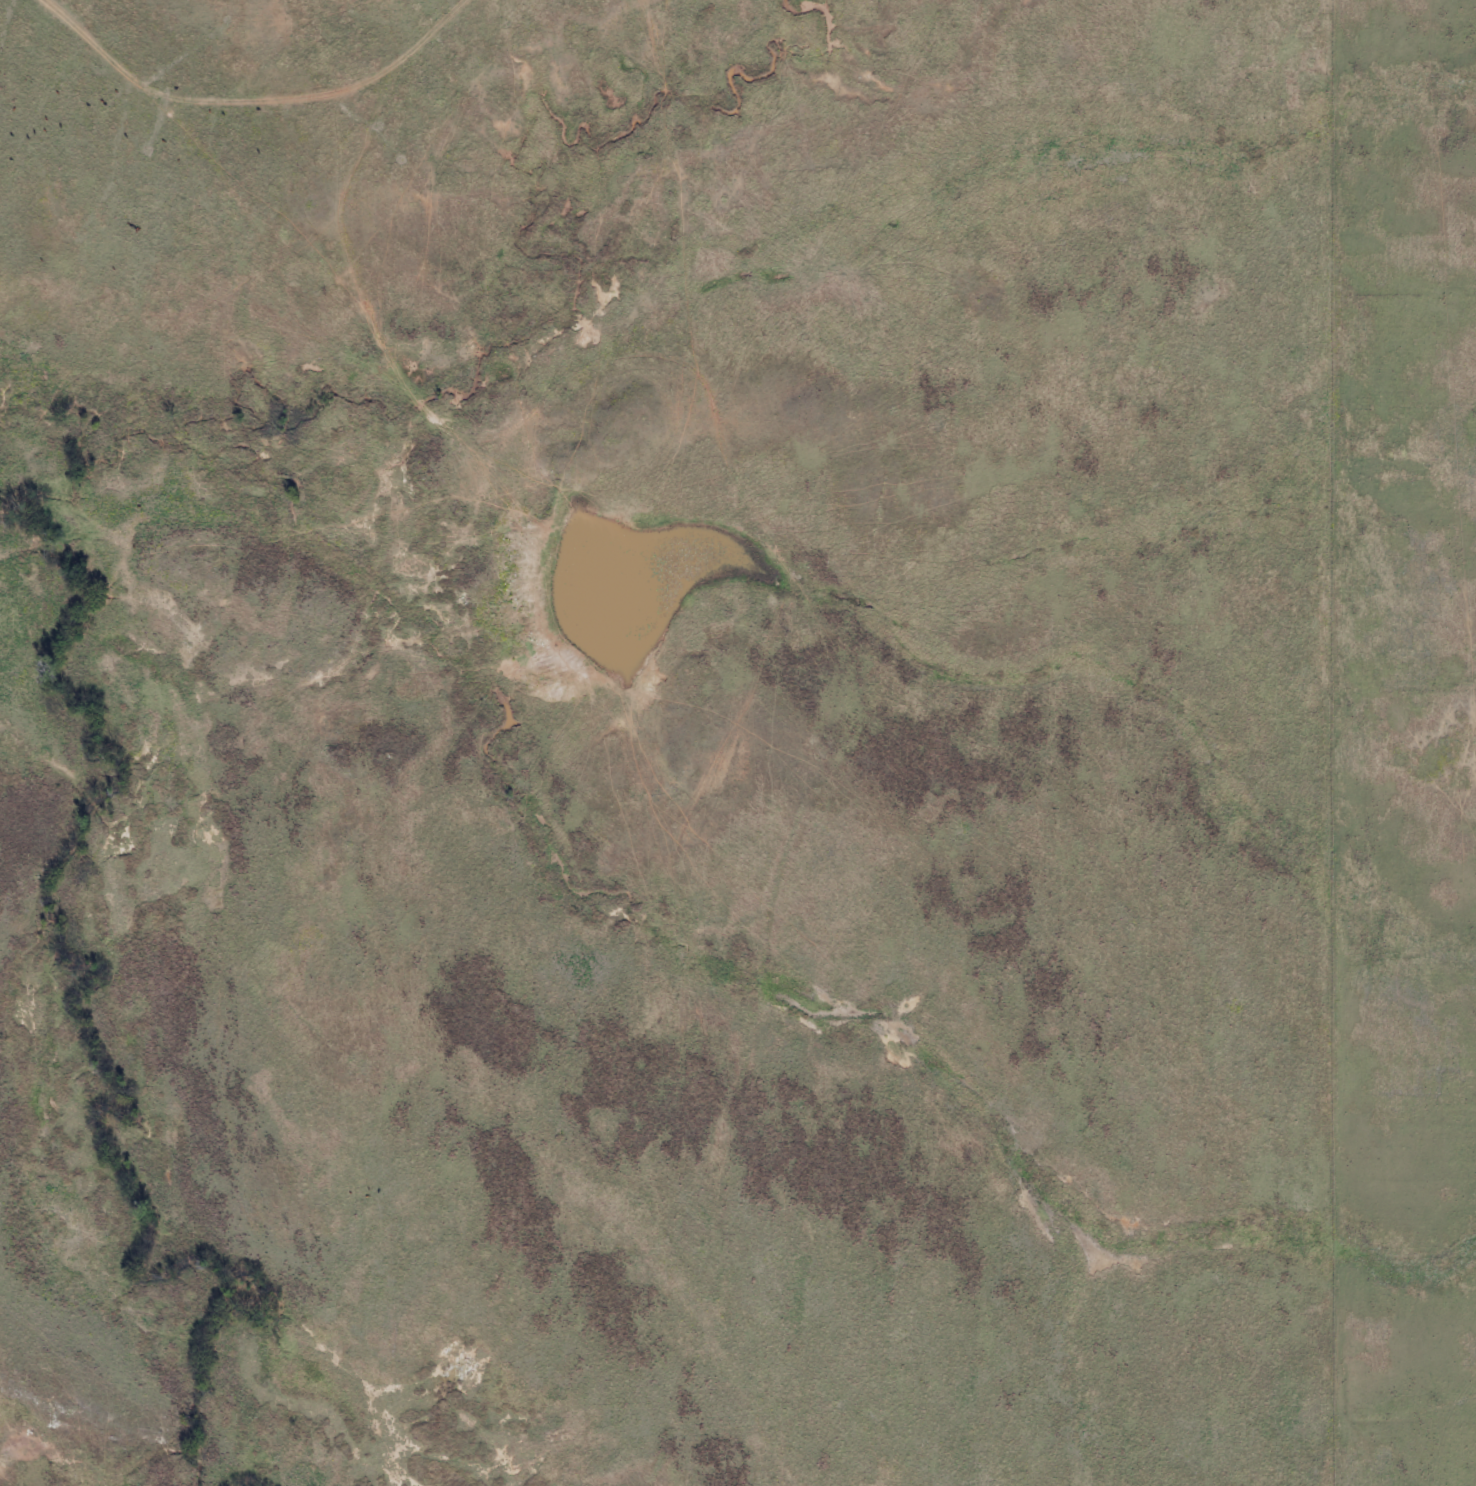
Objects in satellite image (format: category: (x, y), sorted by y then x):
road: (398, 154)

